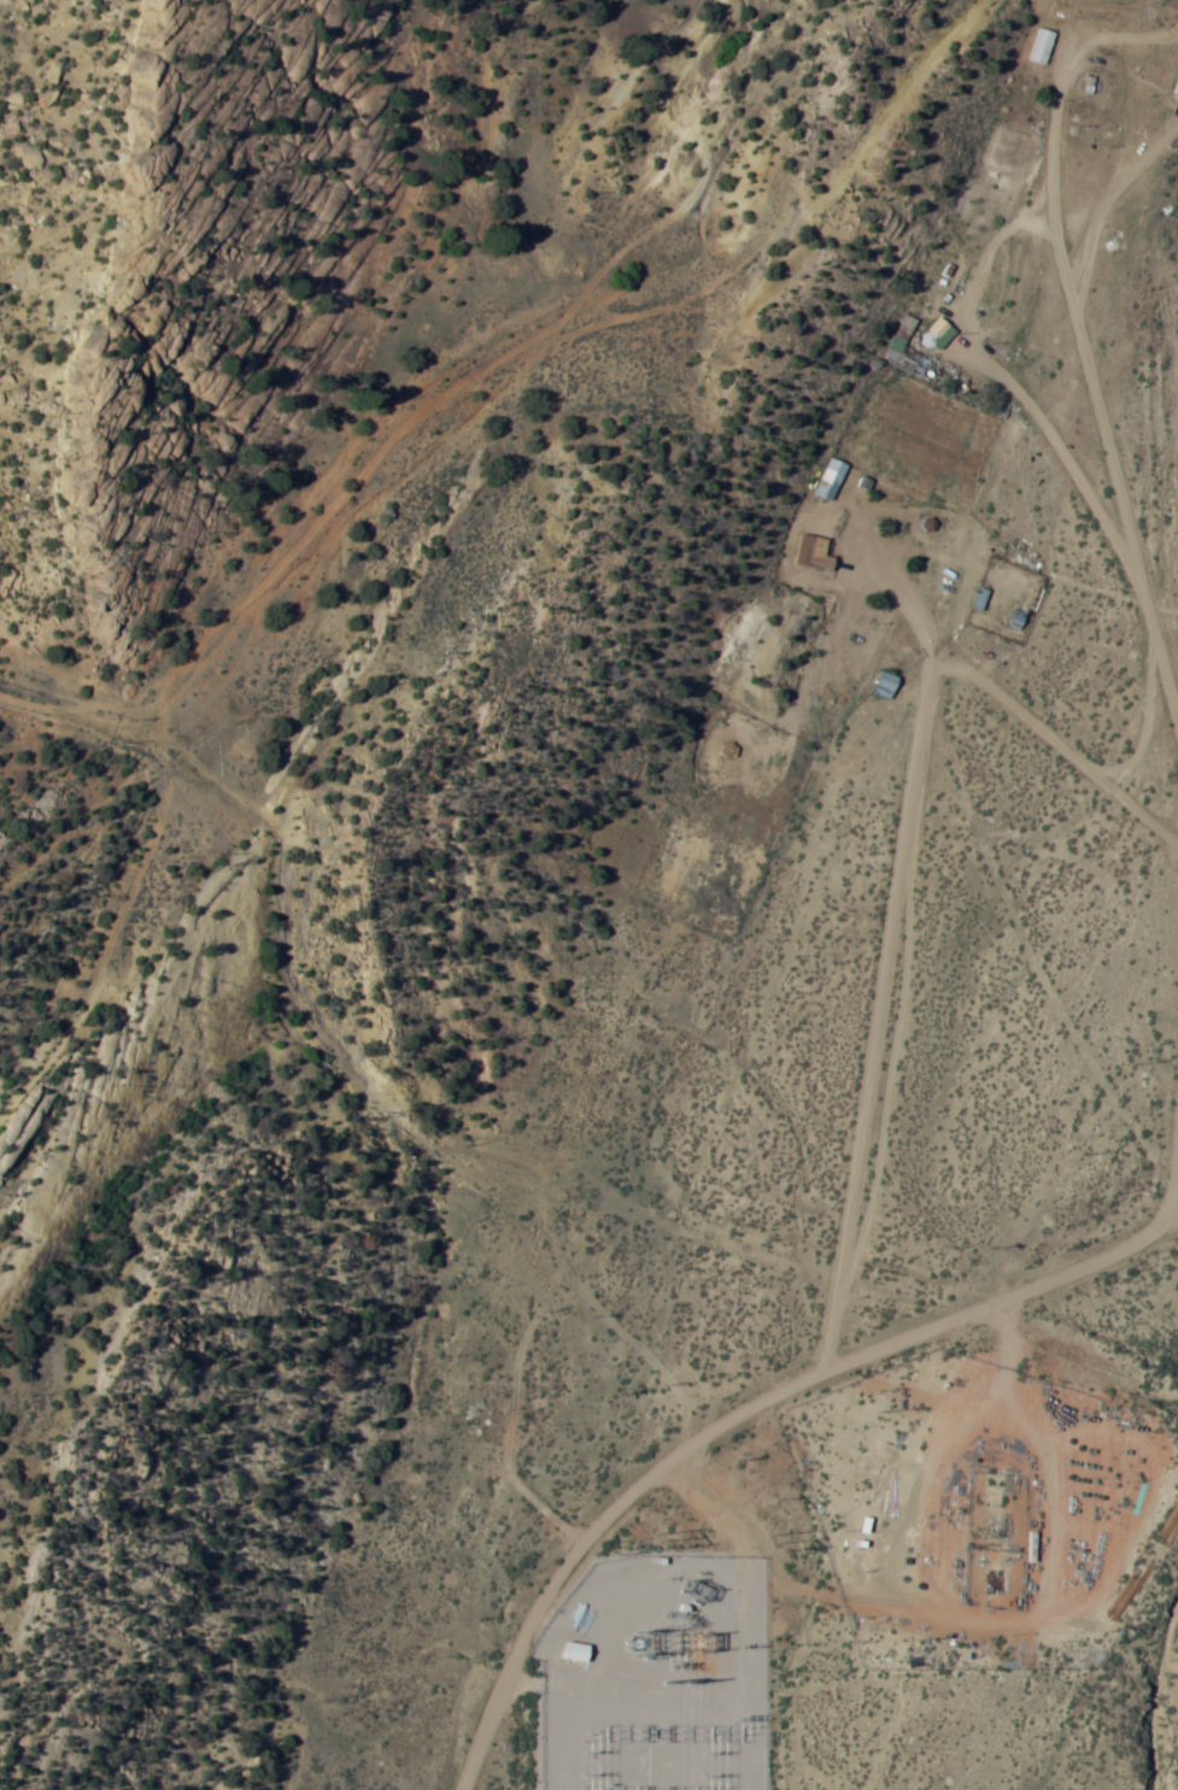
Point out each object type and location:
road: (1041, 2)
building: (1043, 46)
building: (1176, 88)
road: (446, 346)
building: (908, 352)
road: (1039, 372)
building: (833, 477)
building: (819, 551)
building: (1019, 620)
building: (887, 685)
road: (866, 858)
road: (1153, 1216)
road: (742, 1415)
building: (574, 1653)
power substation: (660, 1677)

